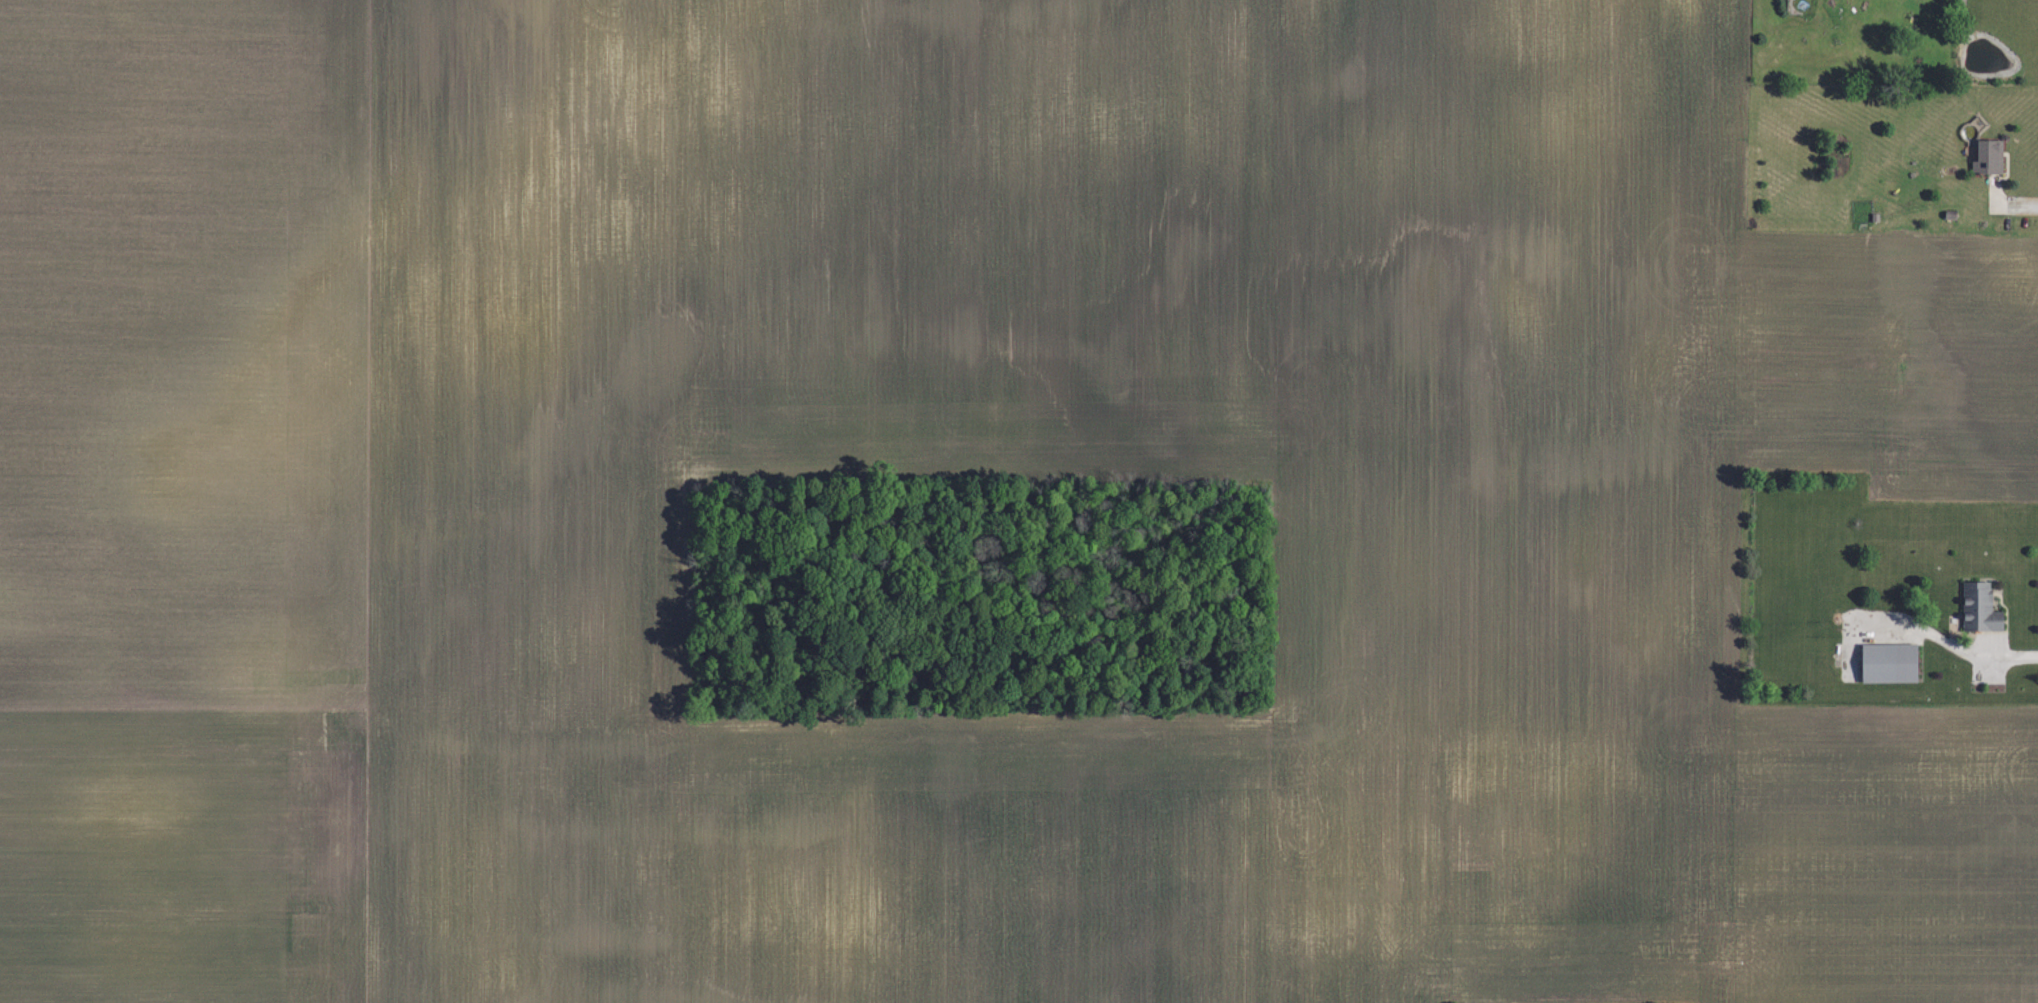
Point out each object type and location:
building: (1990, 156)
road: (2015, 205)
building: (1981, 608)
building: (1892, 663)

